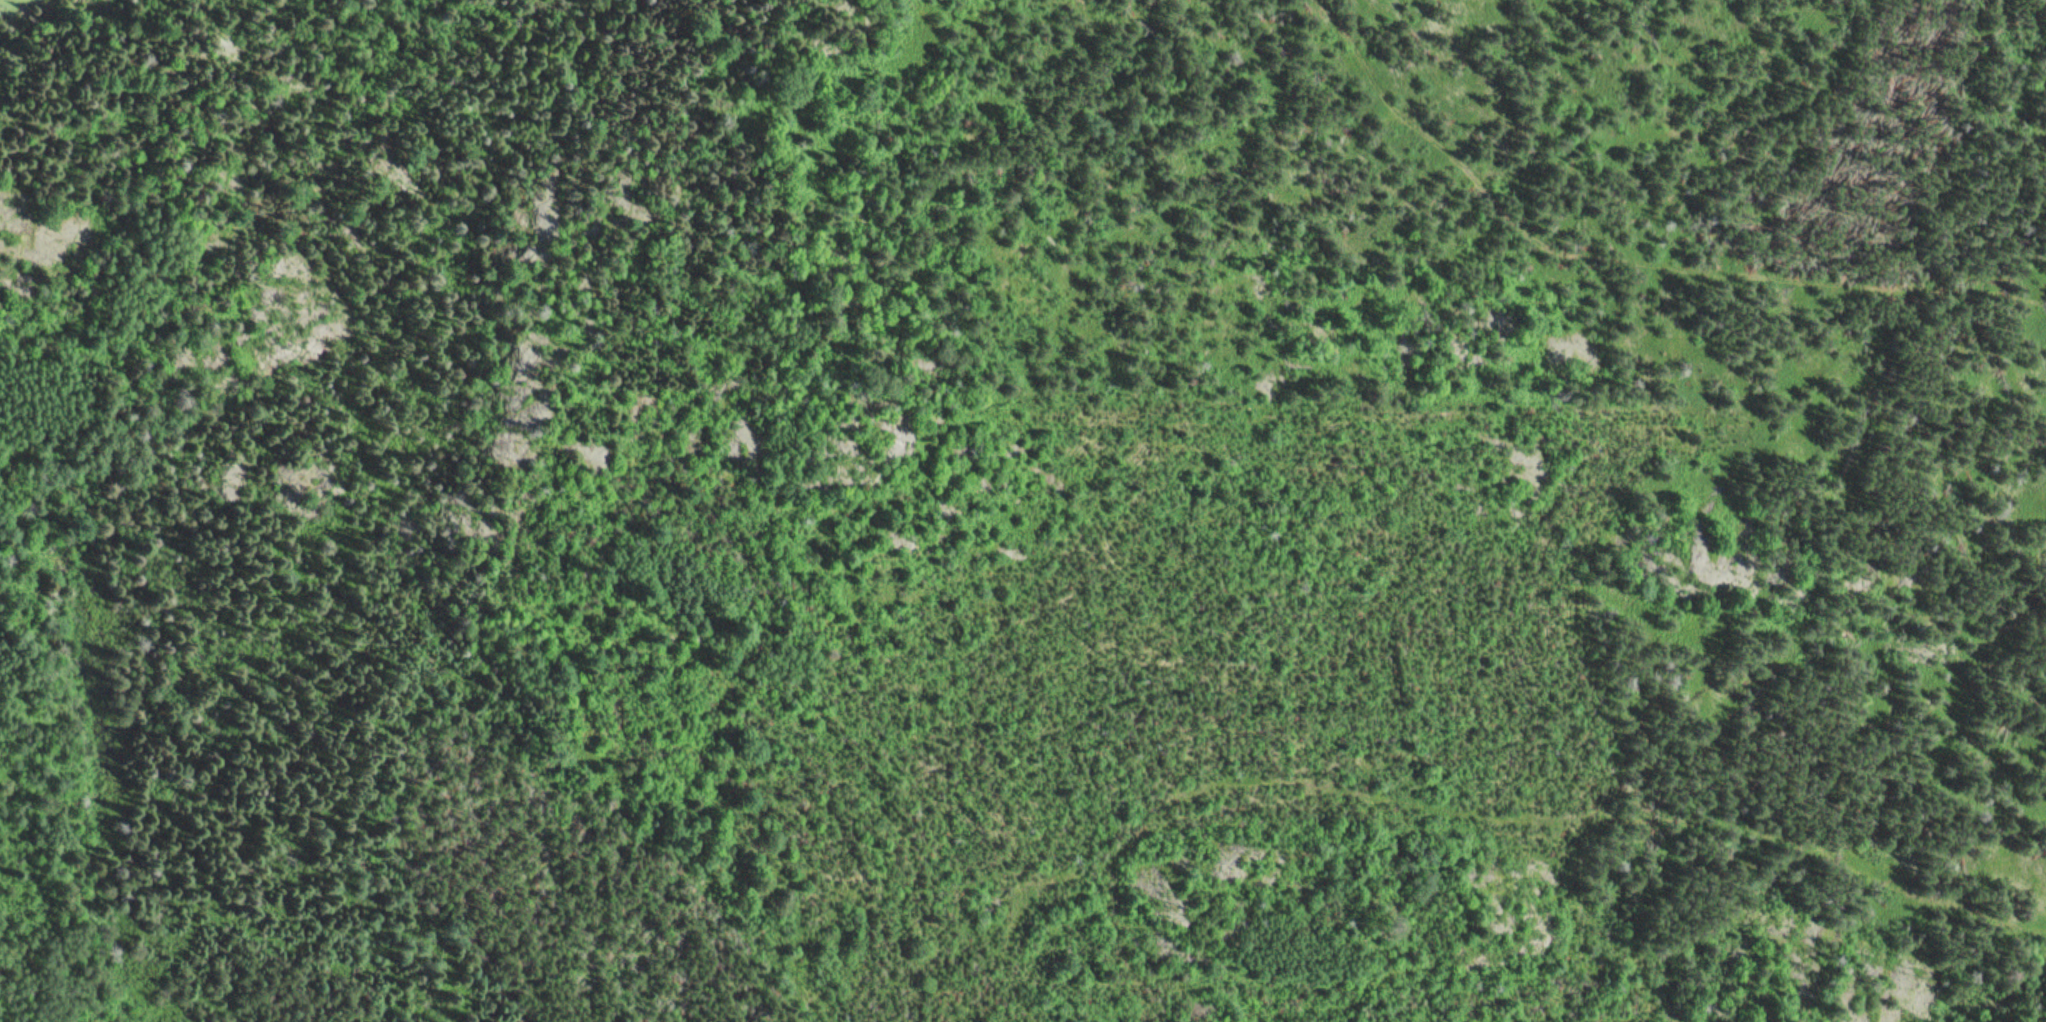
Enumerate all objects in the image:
road: (1633, 251)

